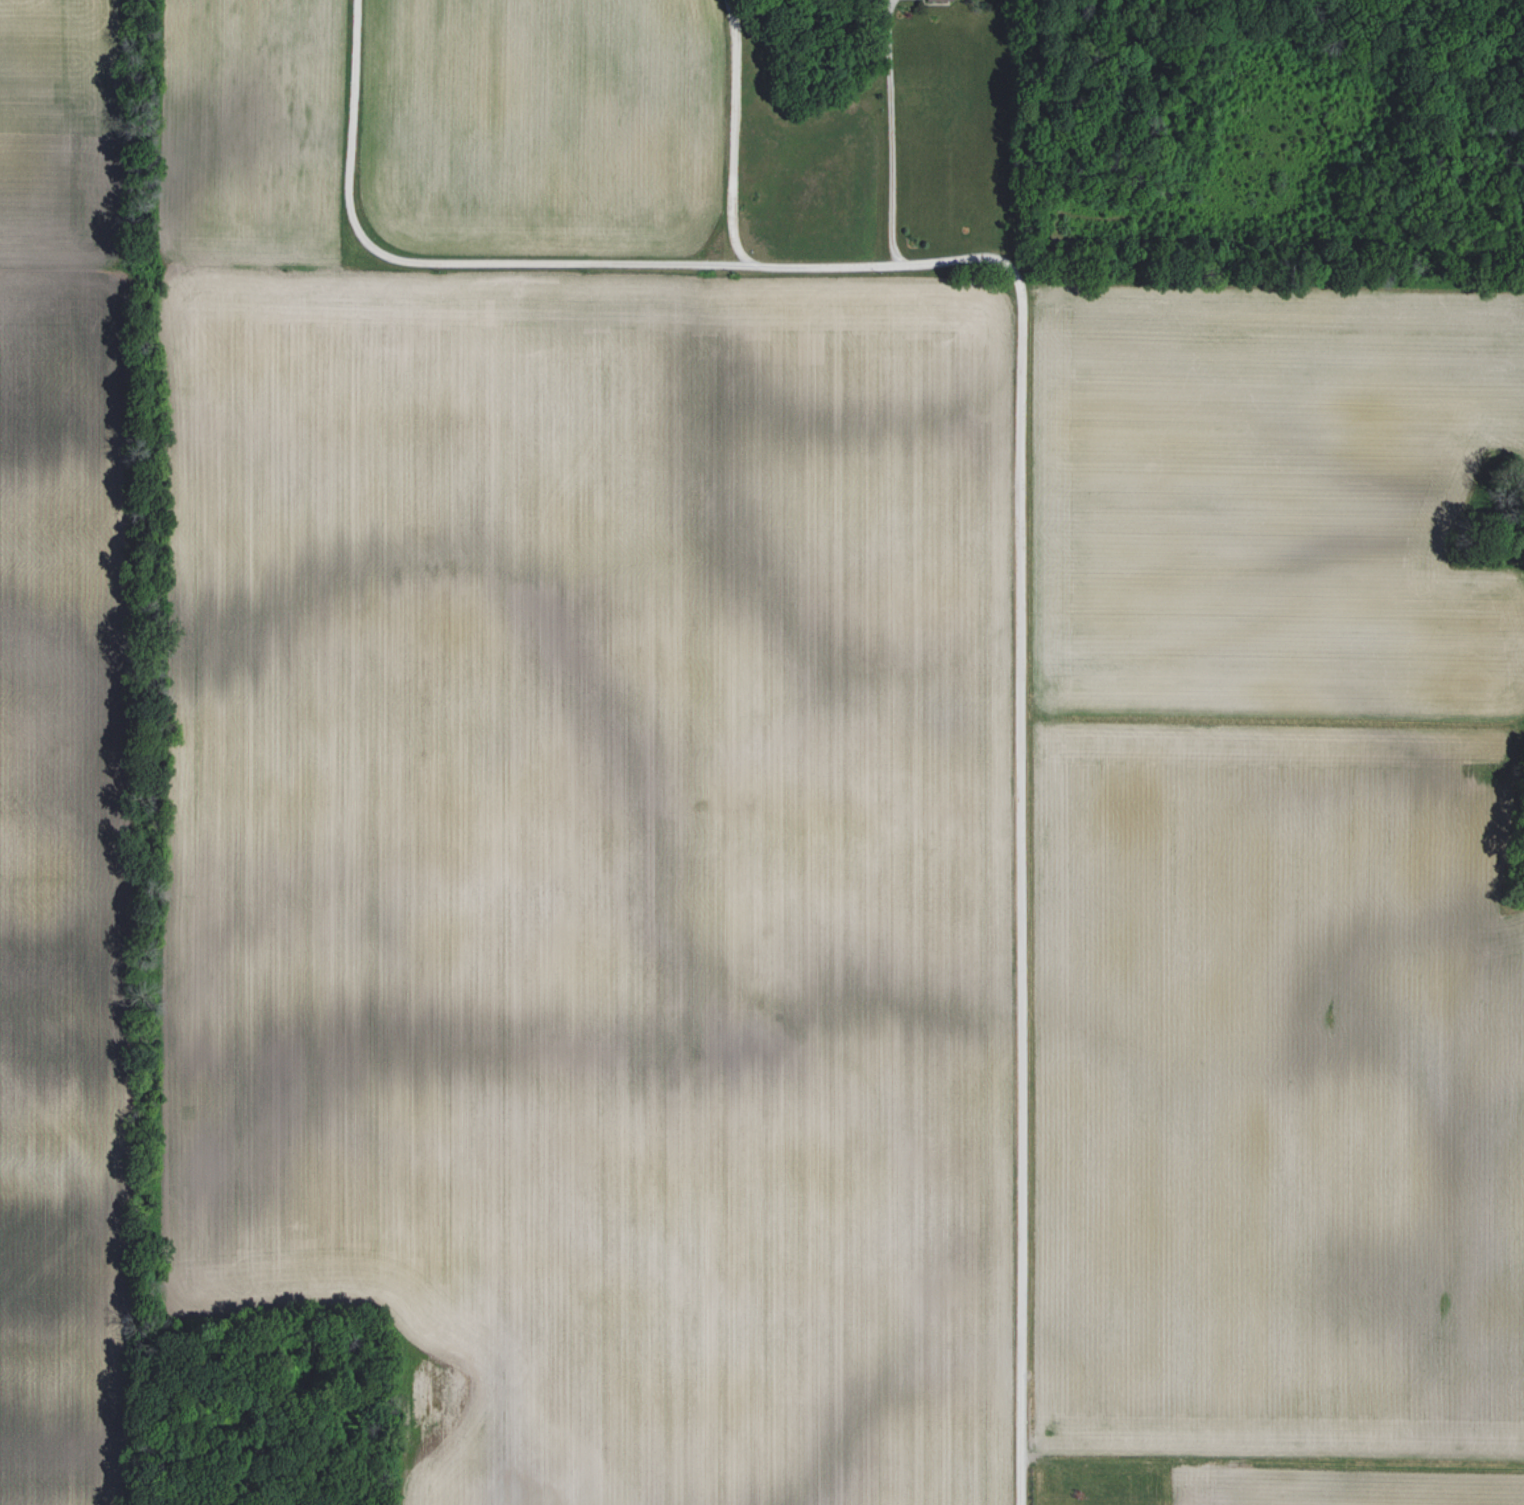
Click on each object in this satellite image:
road: (729, 134)
road: (886, 137)
road: (1012, 430)

